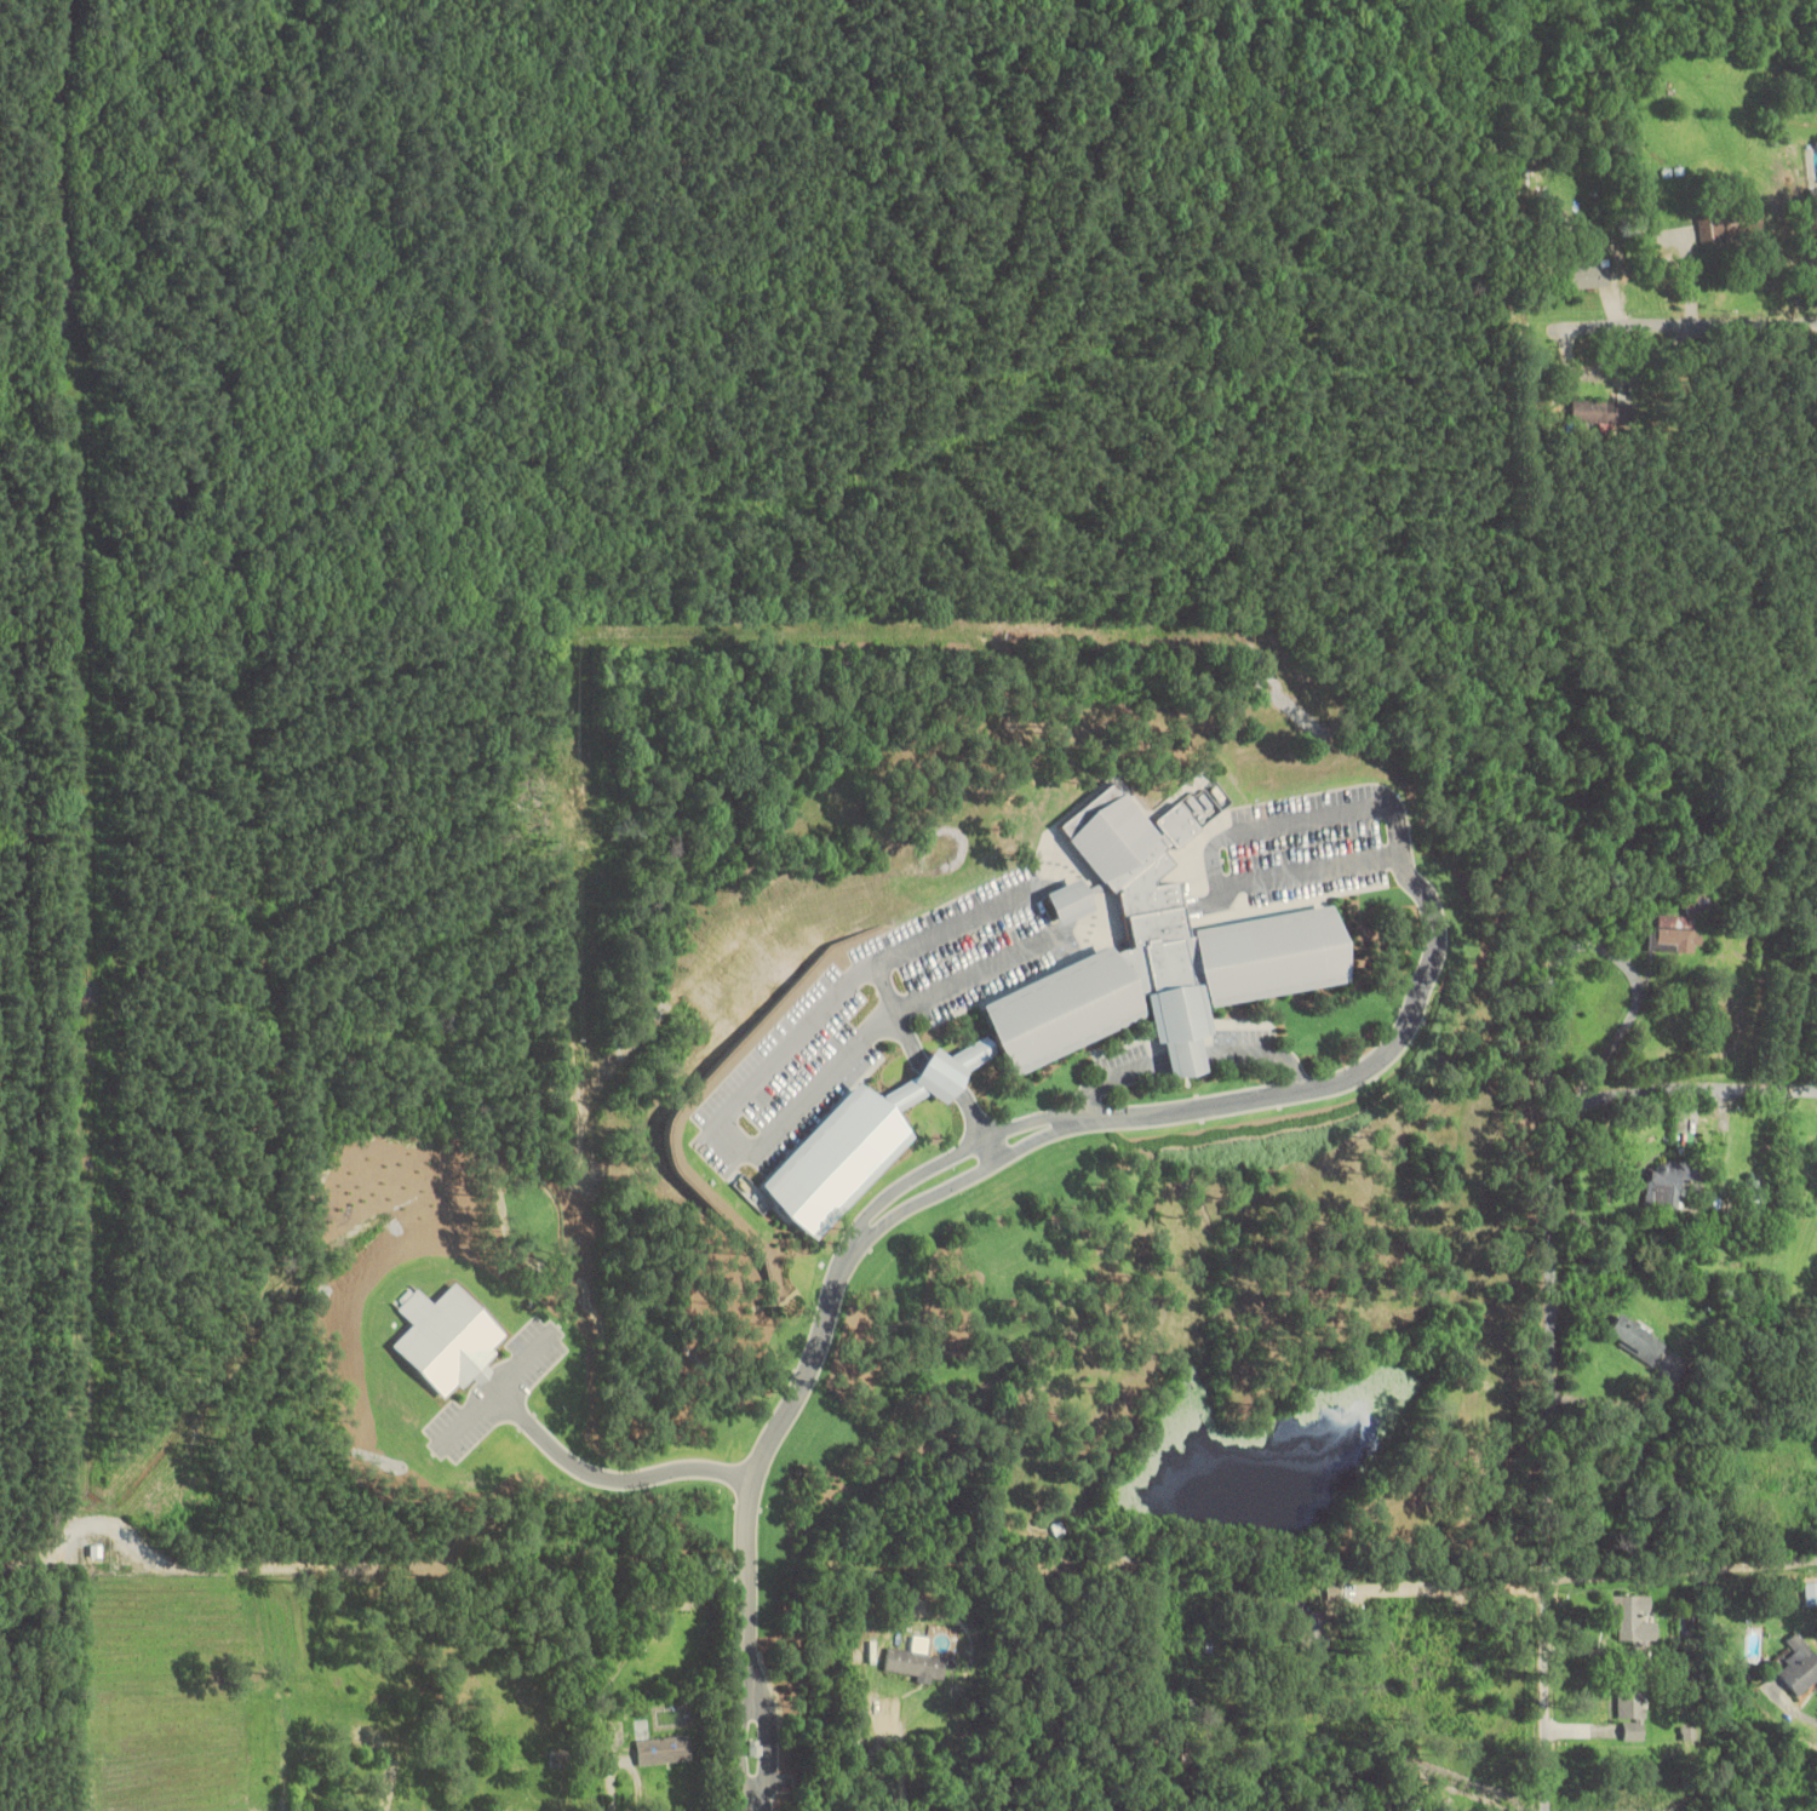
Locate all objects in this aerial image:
building: (1730, 224)
building: (1582, 274)
road: (1683, 319)
building: (1604, 413)
building: (1070, 901)
building: (1695, 902)
building: (1673, 936)
building: (1157, 952)
building: (1668, 1182)
road: (1552, 1267)
building: (1634, 1339)
building: (1811, 1593)
building: (1633, 1617)
building: (1313, 1629)
building: (915, 1663)
building: (1800, 1666)
building: (1629, 1718)
building: (378, 1737)
building: (664, 1749)
building: (1406, 1805)
building: (556, 1807)

